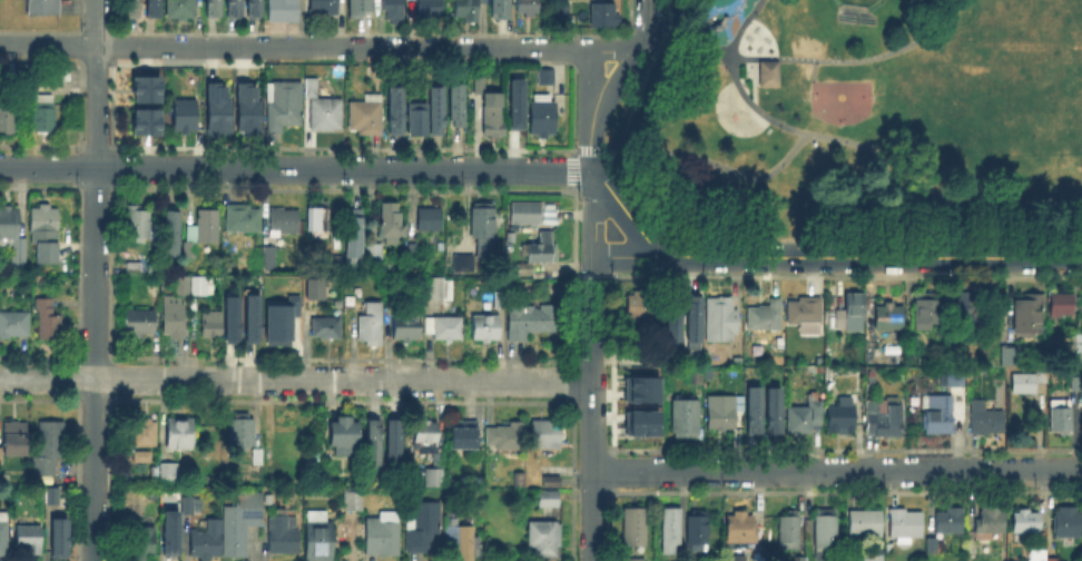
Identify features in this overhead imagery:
park: (854, 2)
building: (527, 4)
building: (129, 7)
building: (149, 7)
building: (210, 7)
building: (360, 7)
building: (46, 8)
building: (230, 8)
building: (253, 8)
building: (326, 8)
building: (466, 8)
building: (498, 8)
building: (395, 9)
building: (432, 9)
building: (183, 10)
building: (563, 11)
building: (286, 12)
building: (600, 13)
road: (647, 24)
road: (679, 32)
road: (294, 45)
road: (613, 47)
road: (854, 60)
road: (750, 68)
road: (814, 69)
building: (767, 72)
building: (26, 73)
building: (549, 78)
road: (747, 80)
building: (476, 81)
road: (613, 82)
building: (142, 88)
building: (313, 90)
park: (840, 100)
building: (456, 101)
park: (1051, 101)
building: (514, 104)
building: (245, 105)
building: (436, 107)
building: (213, 108)
building: (285, 108)
building: (396, 108)
fountain: (742, 108)
building: (490, 114)
building: (45, 115)
building: (327, 116)
building: (416, 116)
building: (187, 117)
building: (368, 117)
building: (545, 118)
park: (863, 118)
building: (8, 119)
building: (139, 119)
road: (857, 144)
road: (589, 151)
road: (708, 160)
road: (295, 167)
road: (626, 210)
building: (528, 216)
building: (244, 219)
building: (321, 219)
building: (432, 219)
building: (285, 220)
building: (138, 225)
building: (394, 226)
building: (45, 232)
building: (170, 232)
building: (204, 232)
building: (485, 233)
building: (357, 236)
building: (14, 237)
building: (544, 249)
building: (377, 253)
road: (628, 255)
road: (870, 255)
building: (270, 256)
building: (334, 263)
building: (466, 264)
building: (135, 266)
road: (95, 279)
building: (184, 287)
building: (200, 287)
building: (313, 287)
building: (441, 292)
building: (392, 299)
building: (502, 302)
building: (1058, 307)
building: (967, 308)
building: (637, 311)
building: (804, 313)
building: (924, 313)
building: (849, 314)
building: (764, 315)
building: (669, 316)
building: (690, 316)
building: (1025, 316)
building: (249, 317)
building: (278, 317)
building: (885, 317)
building: (48, 318)
building: (175, 318)
building: (229, 318)
building: (532, 321)
building: (208, 322)
building: (718, 322)
building: (140, 324)
building: (14, 327)
building: (373, 327)
building: (328, 329)
building: (446, 329)
building: (409, 331)
building: (489, 332)
building: (777, 343)
building: (913, 346)
building: (1011, 358)
road: (296, 378)
building: (952, 378)
building: (1027, 382)
building: (1074, 383)
building: (639, 387)
road: (592, 407)
building: (751, 409)
building: (771, 409)
building: (720, 413)
building: (844, 417)
building: (681, 419)
building: (940, 419)
building: (1059, 419)
building: (801, 420)
building: (983, 420)
building: (639, 421)
building: (884, 421)
building: (242, 434)
building: (184, 435)
building: (347, 435)
building: (545, 435)
building: (466, 437)
building: (141, 439)
building: (427, 440)
building: (504, 440)
building: (18, 441)
building: (375, 441)
building: (393, 442)
building: (51, 450)
building: (258, 457)
building: (1, 460)
road: (837, 470)
building: (174, 474)
building: (436, 481)
building: (552, 482)
building: (50, 501)
building: (355, 501)
building: (551, 501)
building: (190, 504)
building: (988, 522)
building: (946, 523)
building: (1025, 523)
building: (1065, 524)
building: (421, 525)
building: (903, 526)
building: (243, 528)
building: (864, 528)
building: (632, 530)
building: (737, 531)
building: (167, 532)
building: (284, 532)
building: (696, 532)
building: (823, 532)
building: (668, 533)
building: (788, 533)
building: (4, 535)
building: (57, 535)
building: (321, 538)
building: (384, 538)
building: (464, 538)
building: (27, 539)
building: (545, 541)
building: (208, 542)
building: (142, 543)
building: (932, 545)
building: (1036, 555)
building: (866, 557)
building: (735, 559)
building: (798, 559)
building: (633, 560)
building: (1051, 560)

